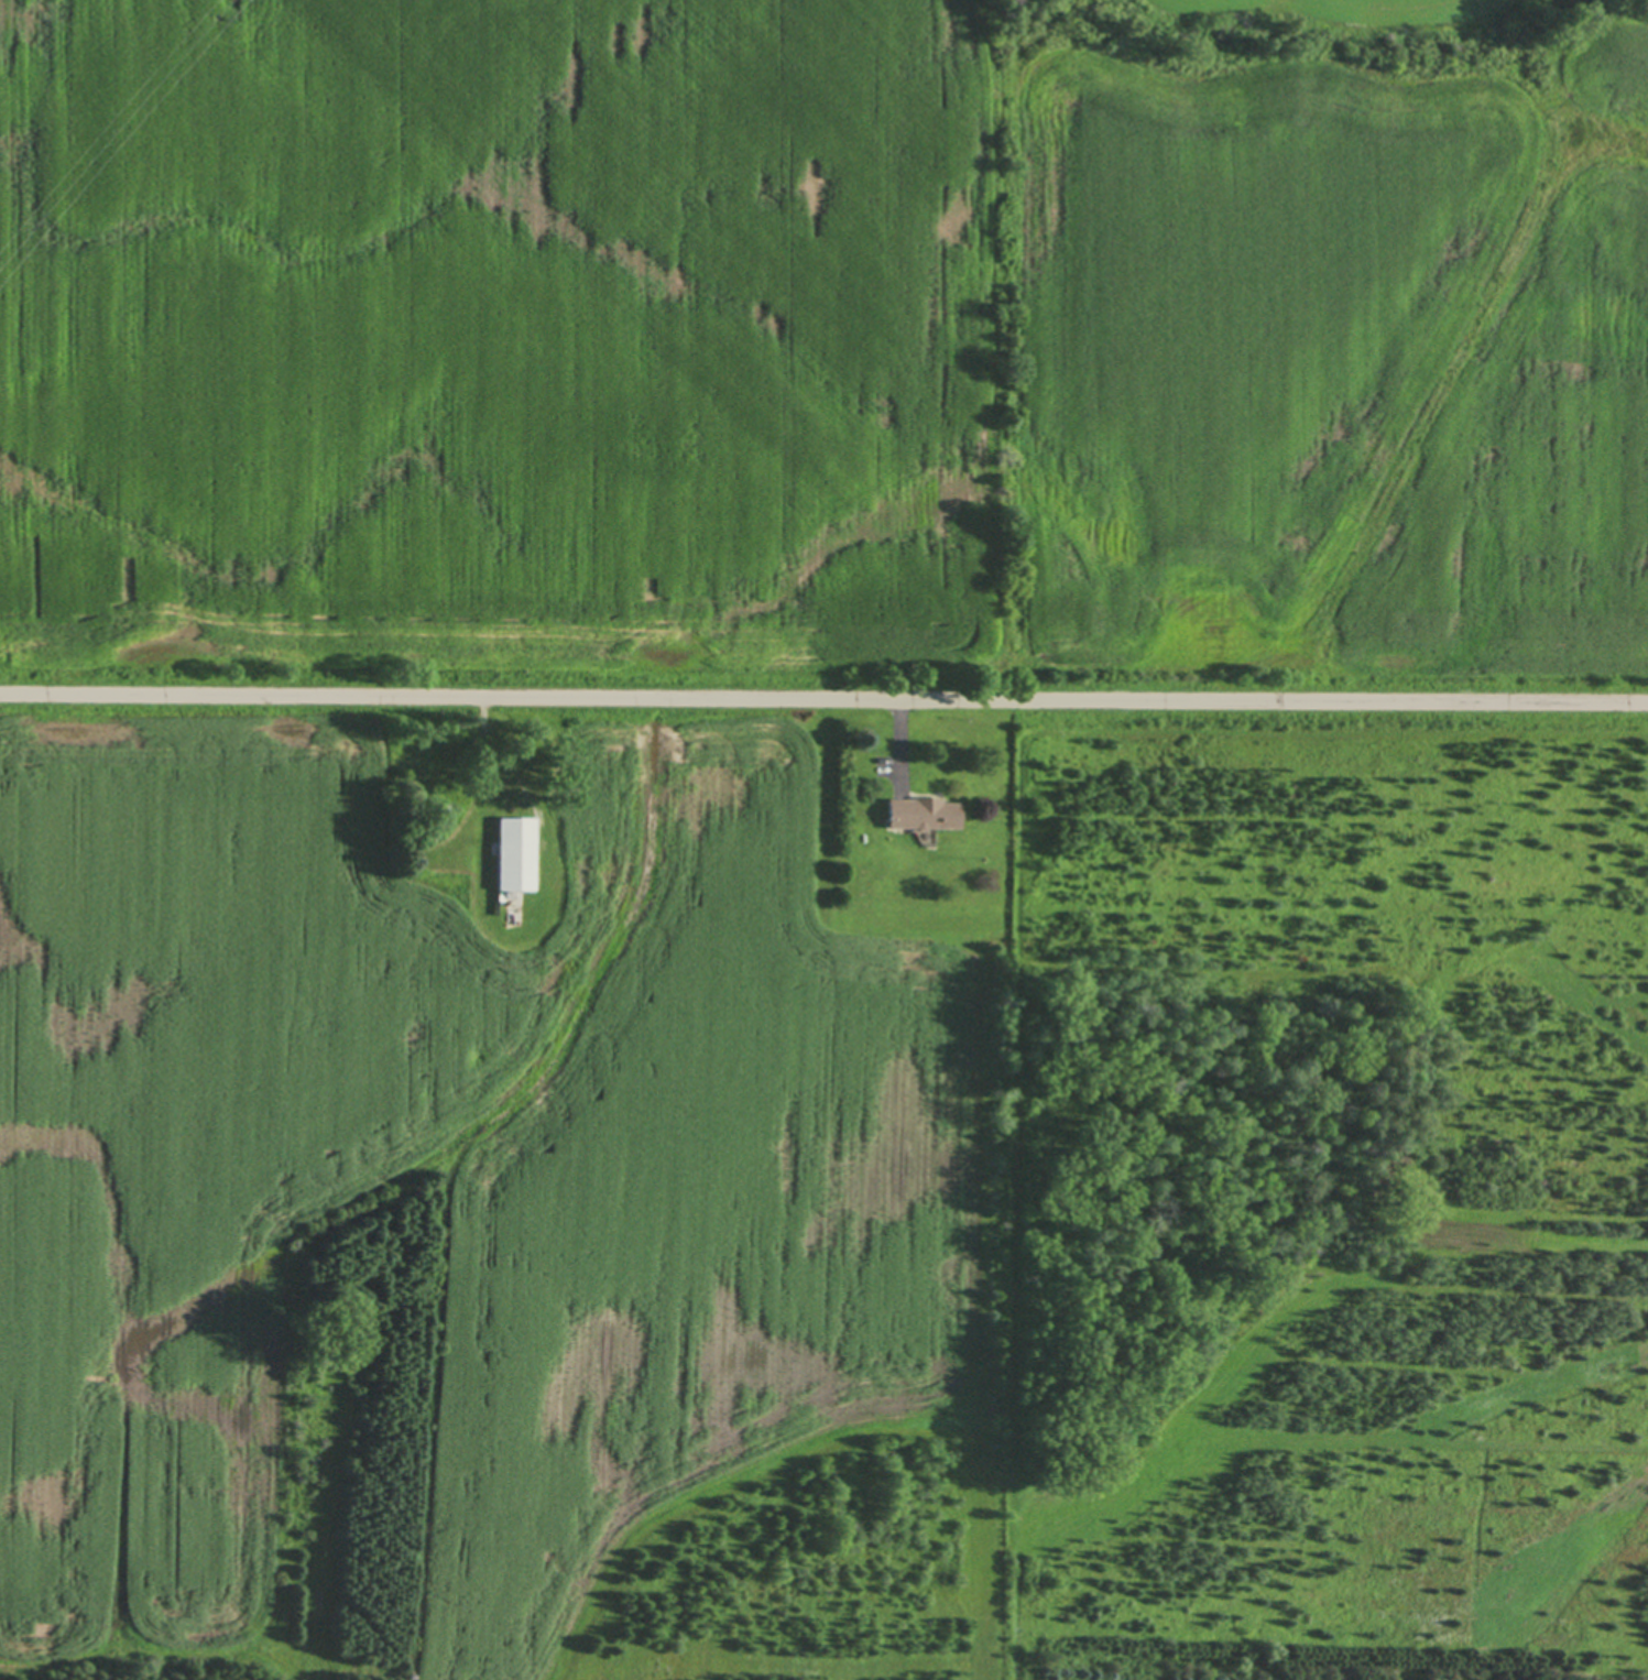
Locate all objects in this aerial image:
road: (823, 698)
building: (472, 811)
building: (920, 811)
building: (515, 854)

